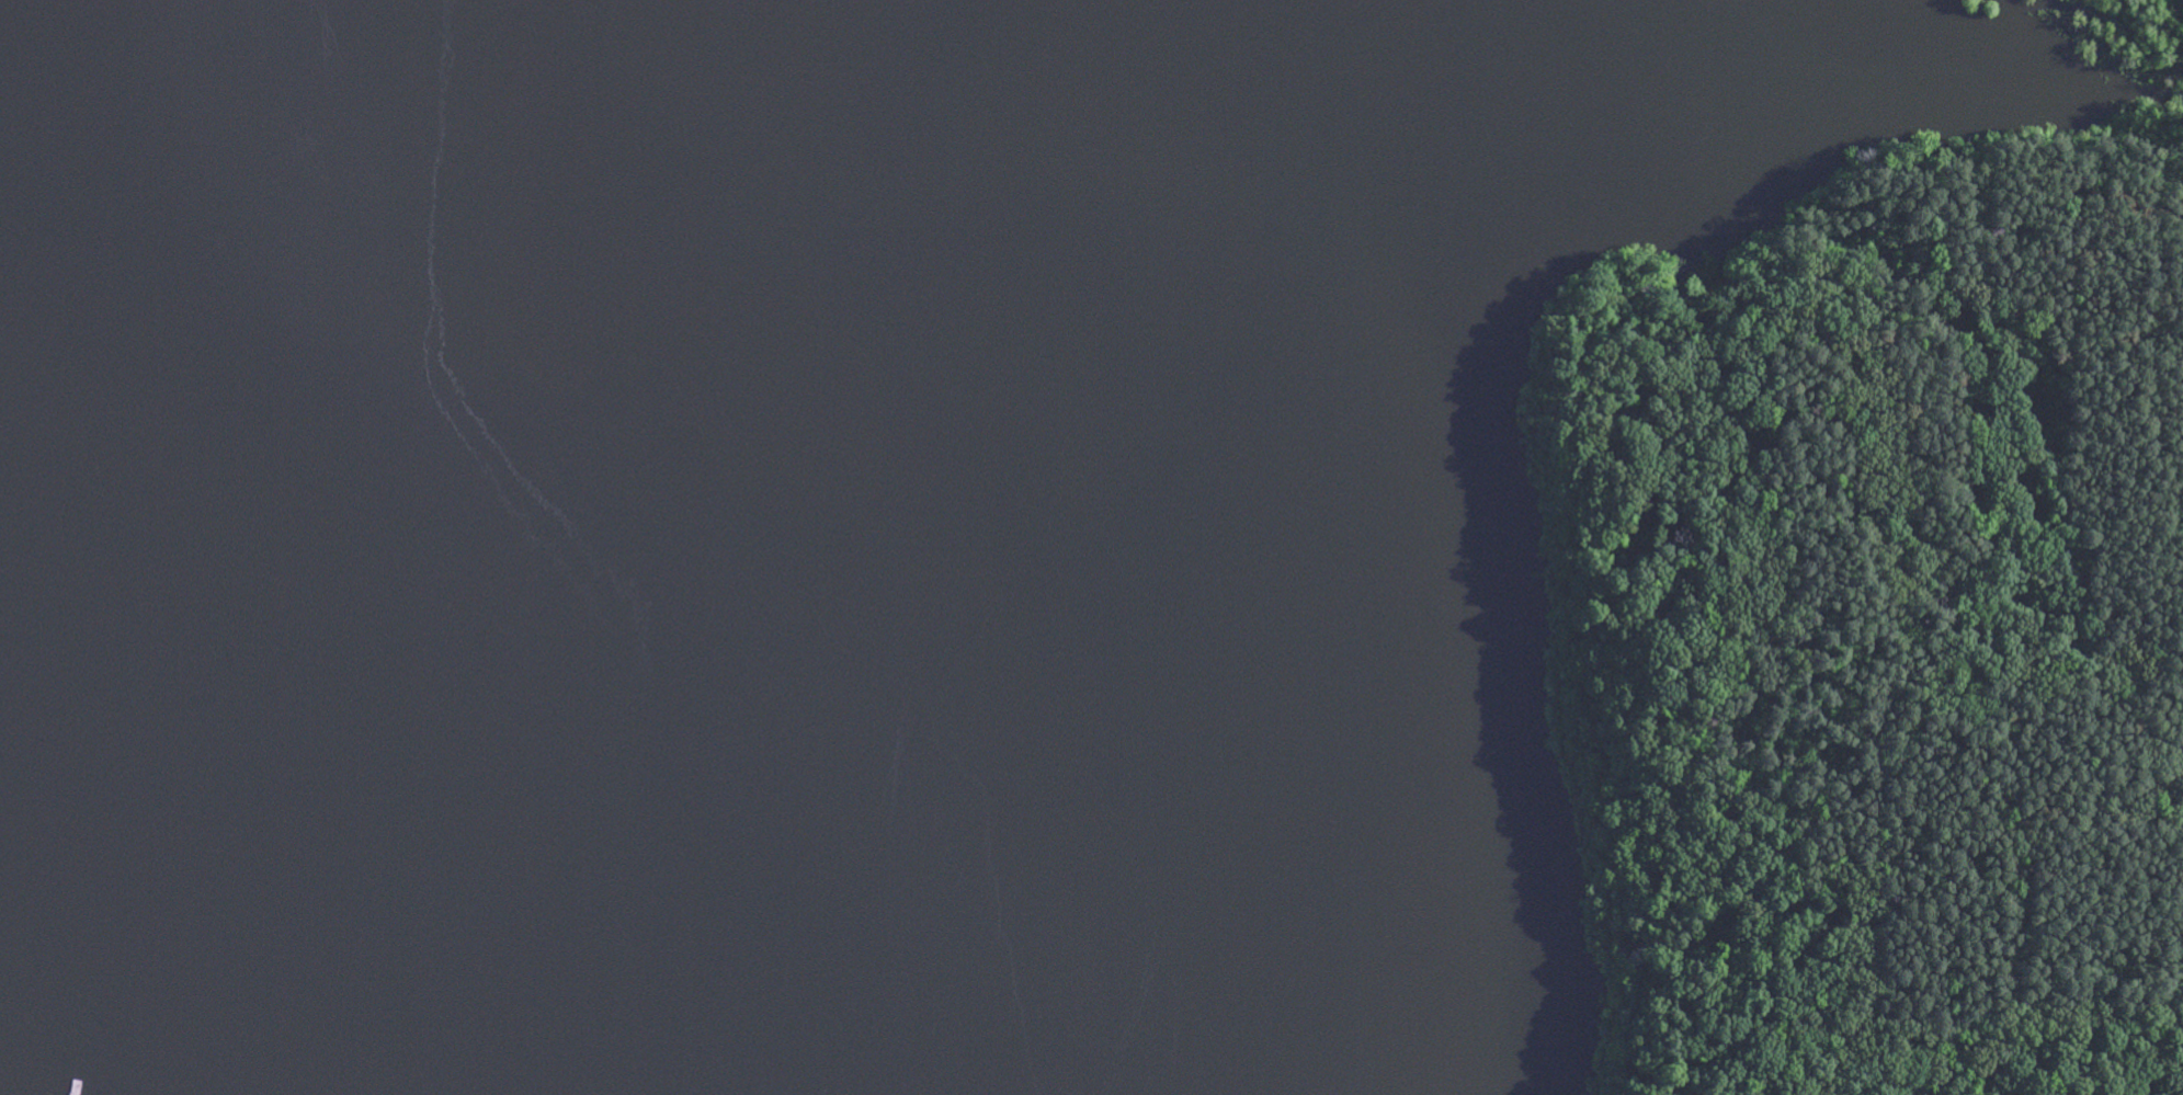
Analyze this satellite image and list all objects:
river: (684, 546)
pier: (82, 1085)

